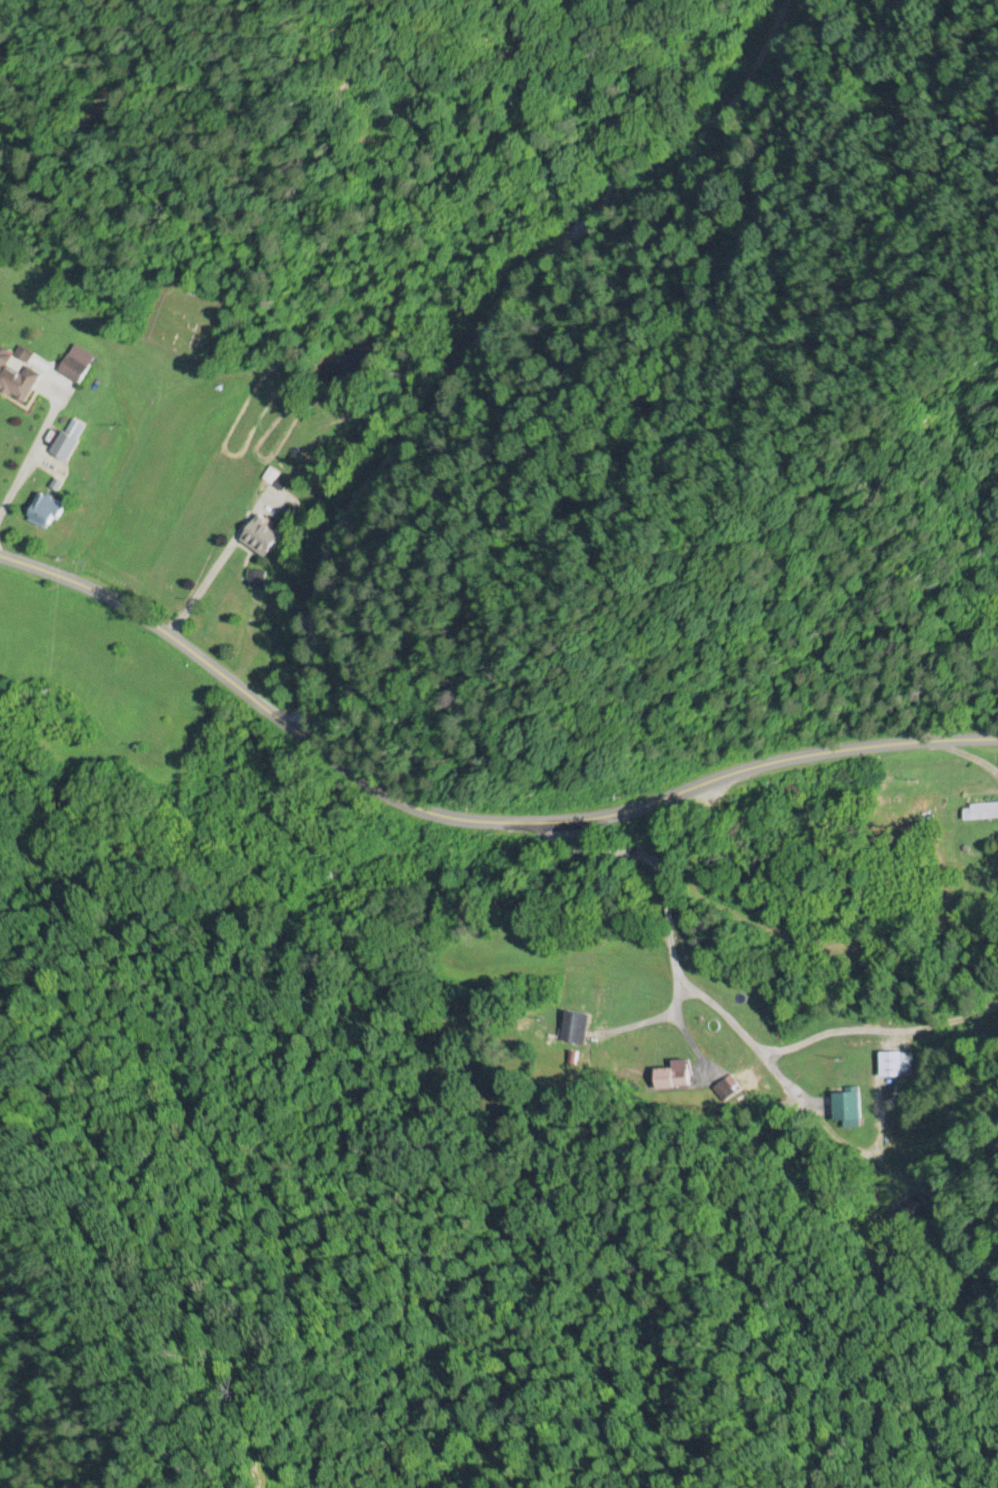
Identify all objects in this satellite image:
road: (484, 331)
road: (467, 817)

